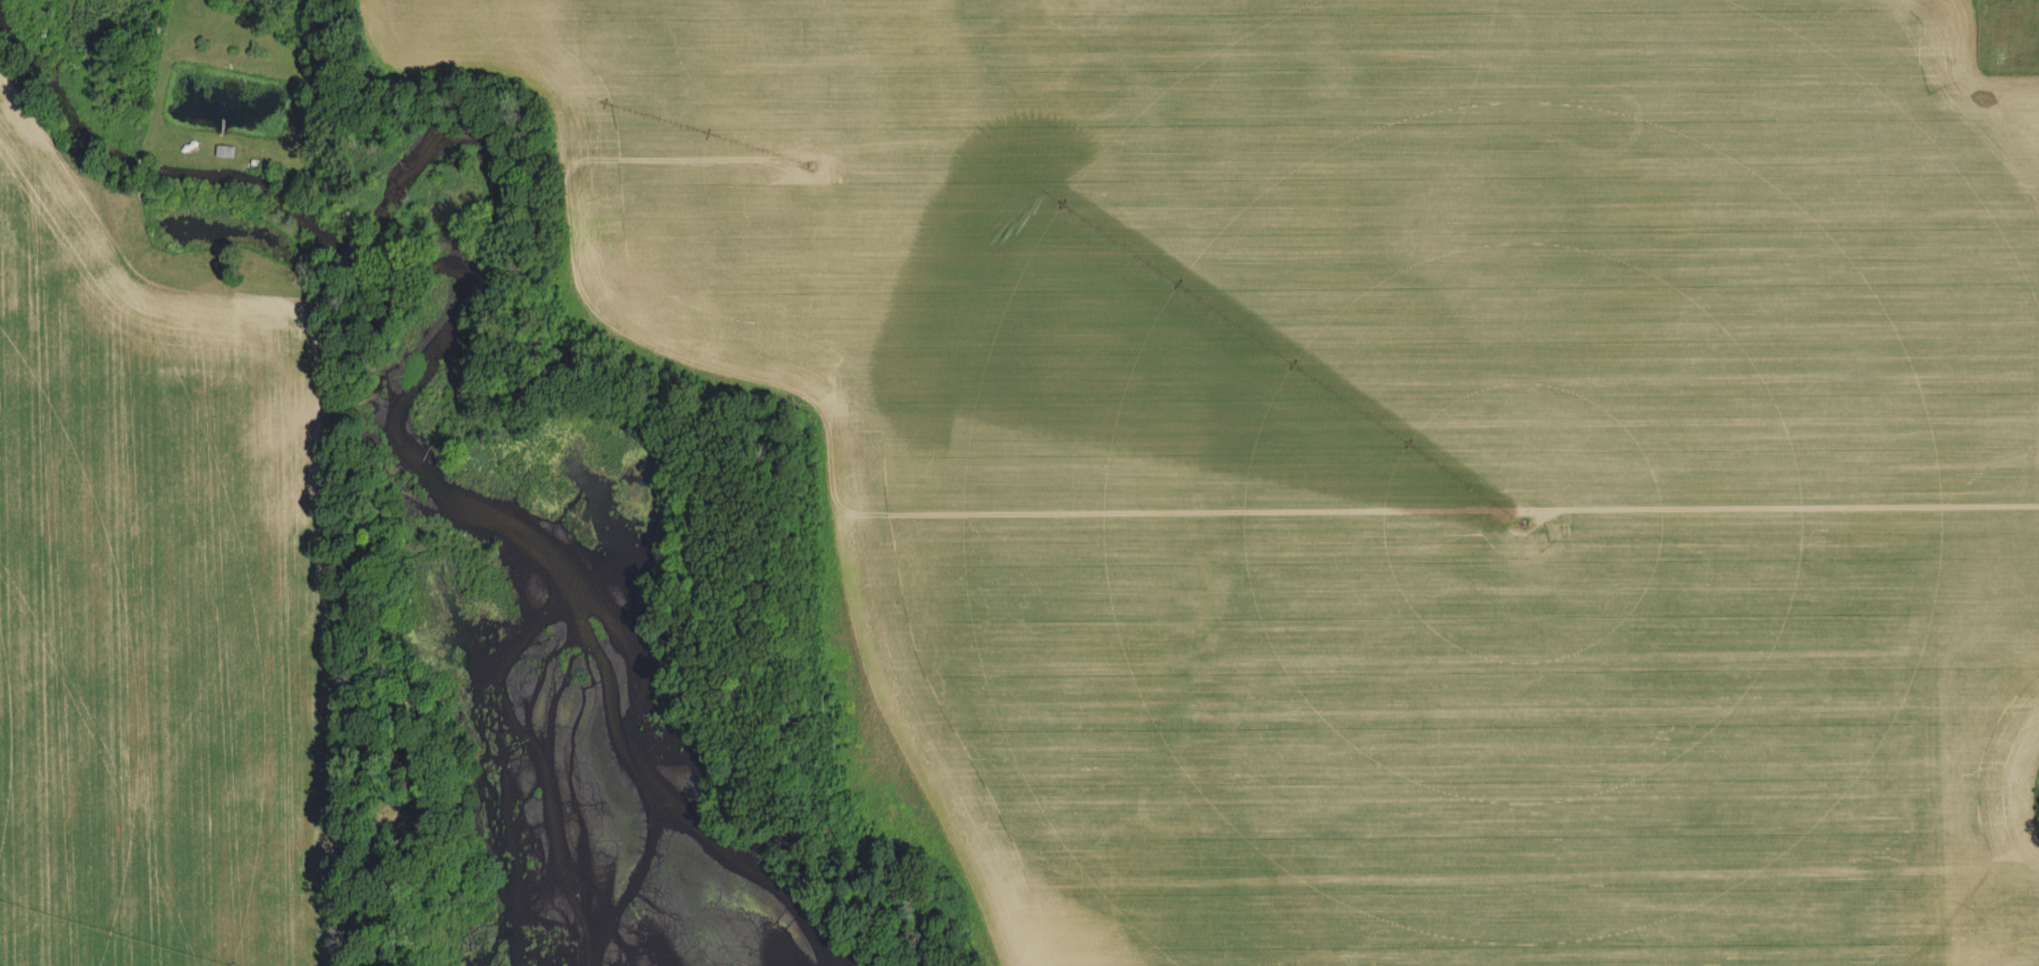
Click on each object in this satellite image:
building: (220, 153)

